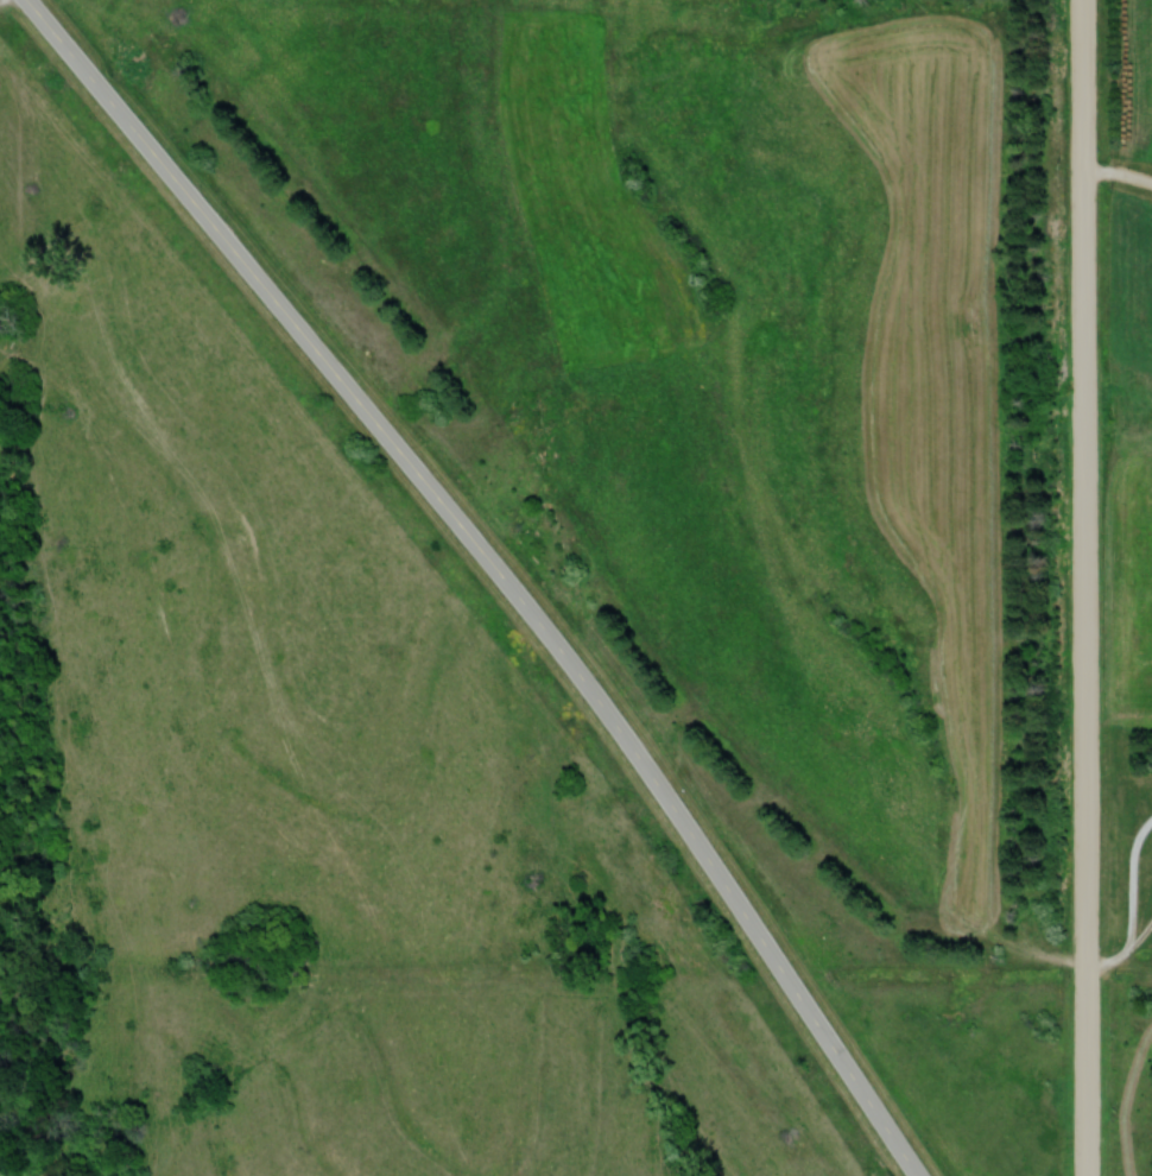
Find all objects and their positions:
road: (1119, 173)
road: (1085, 494)
road: (498, 570)
road: (1088, 1082)

